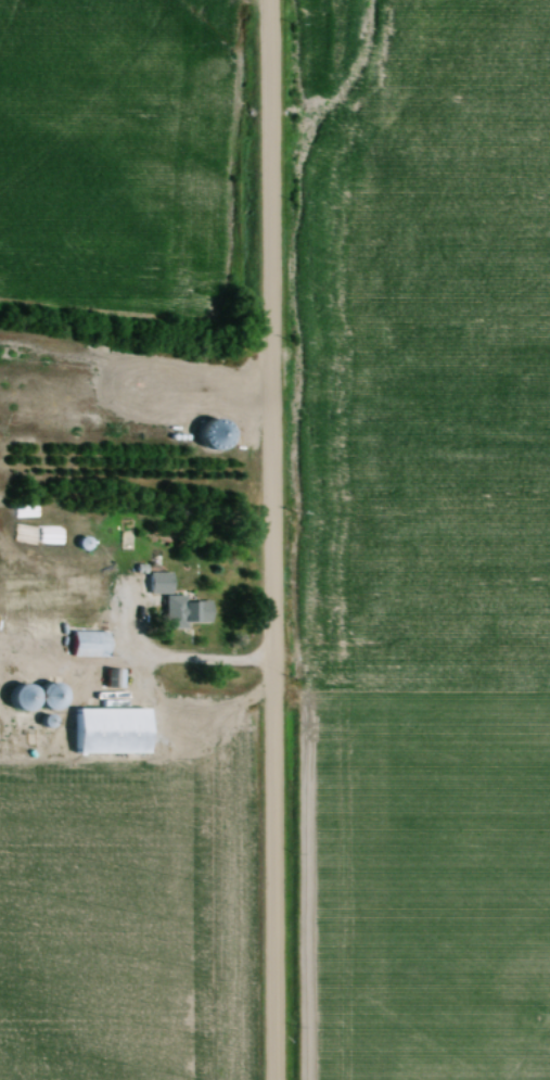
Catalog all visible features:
building: (208, 435)
road: (273, 539)
building: (172, 605)
building: (84, 645)
road: (174, 659)
building: (112, 679)
building: (29, 698)
building: (41, 722)
building: (103, 732)

